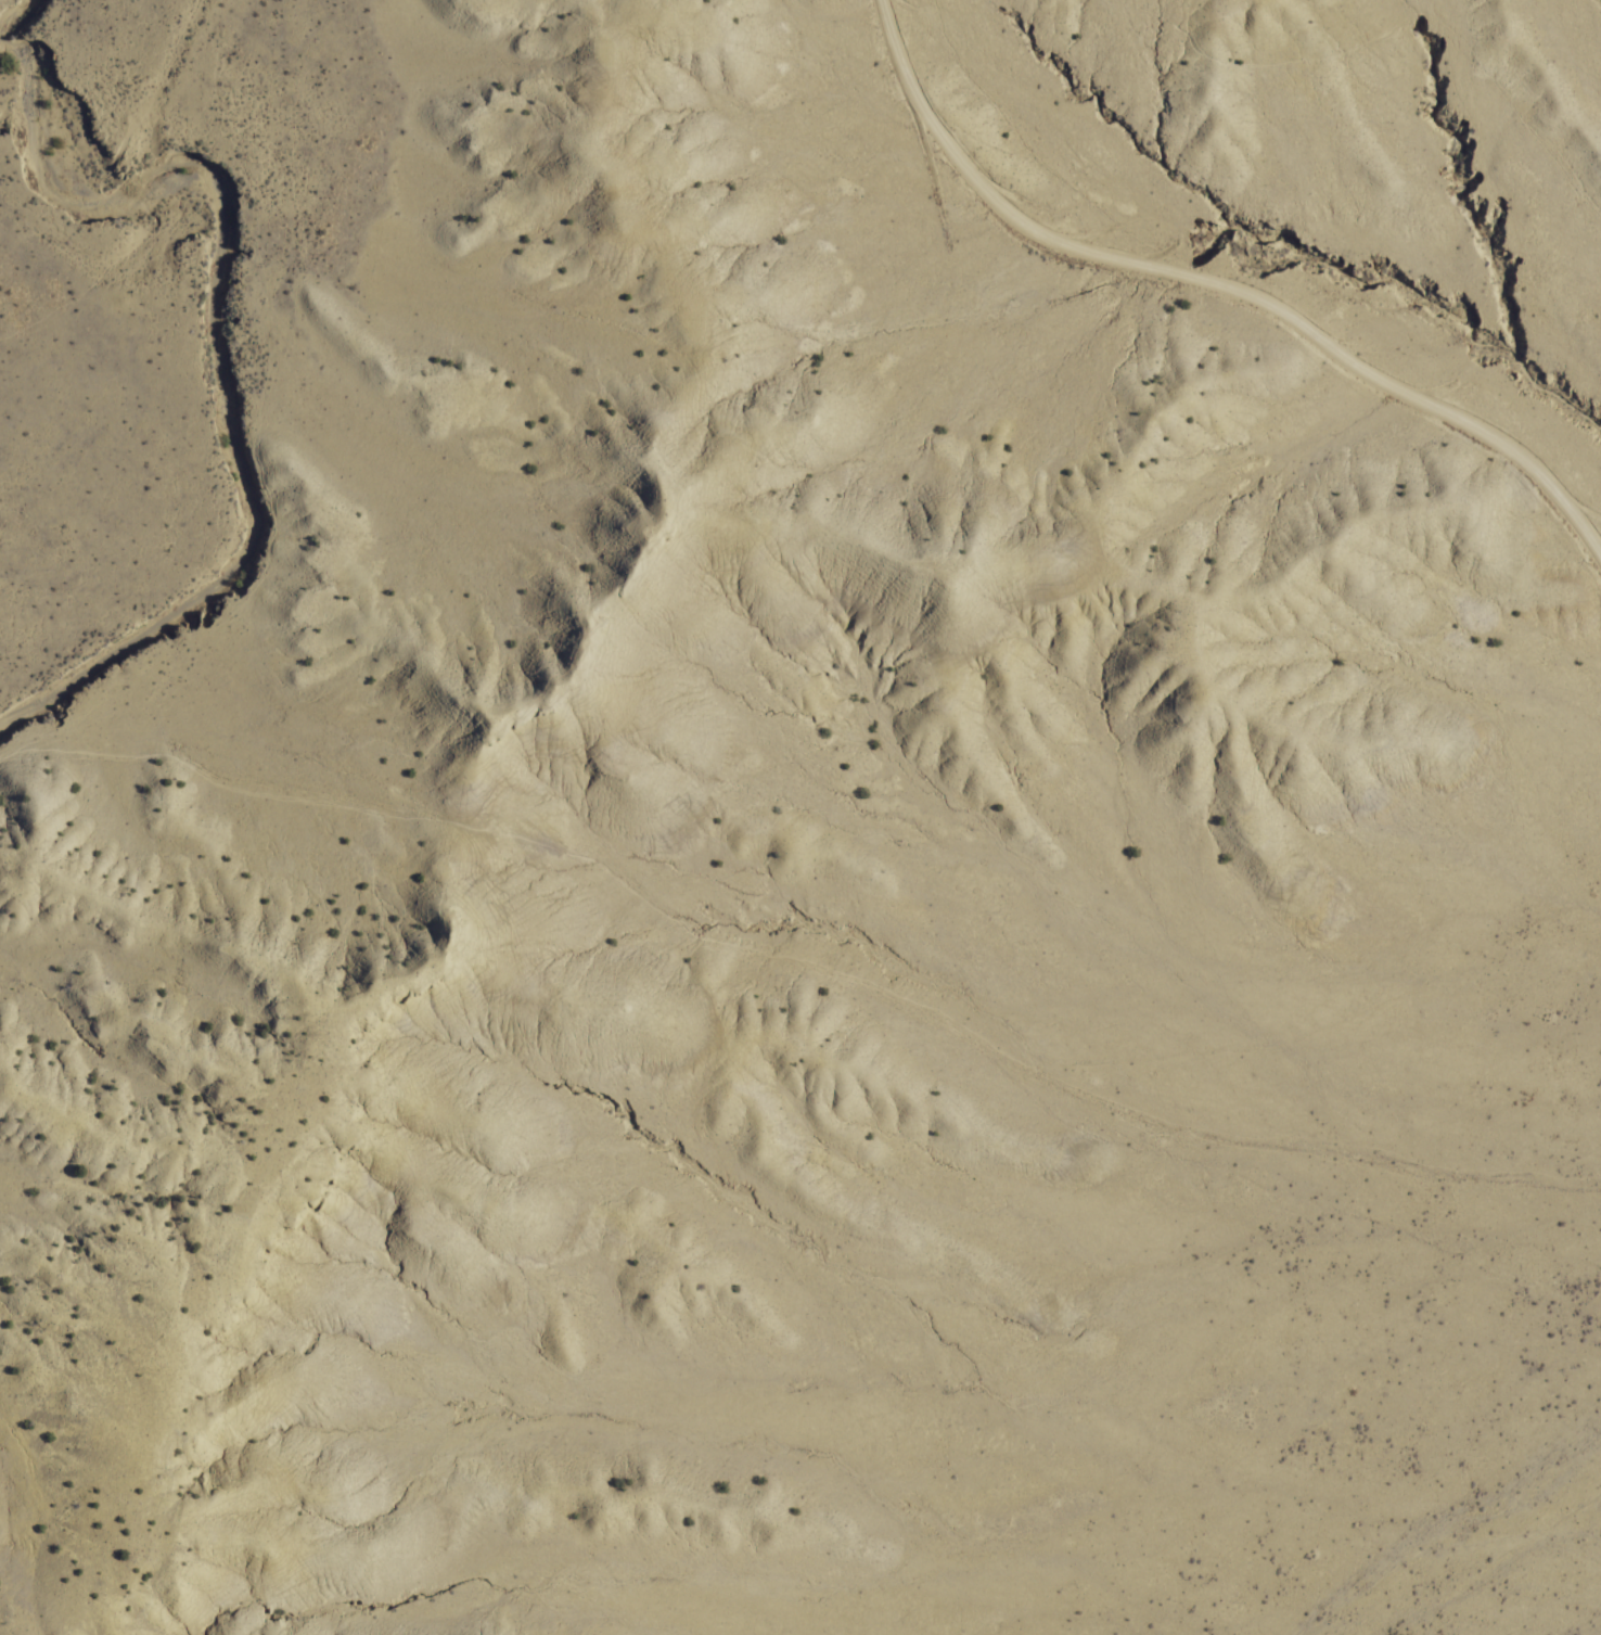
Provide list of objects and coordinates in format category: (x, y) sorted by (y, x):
road: (1222, 285)

